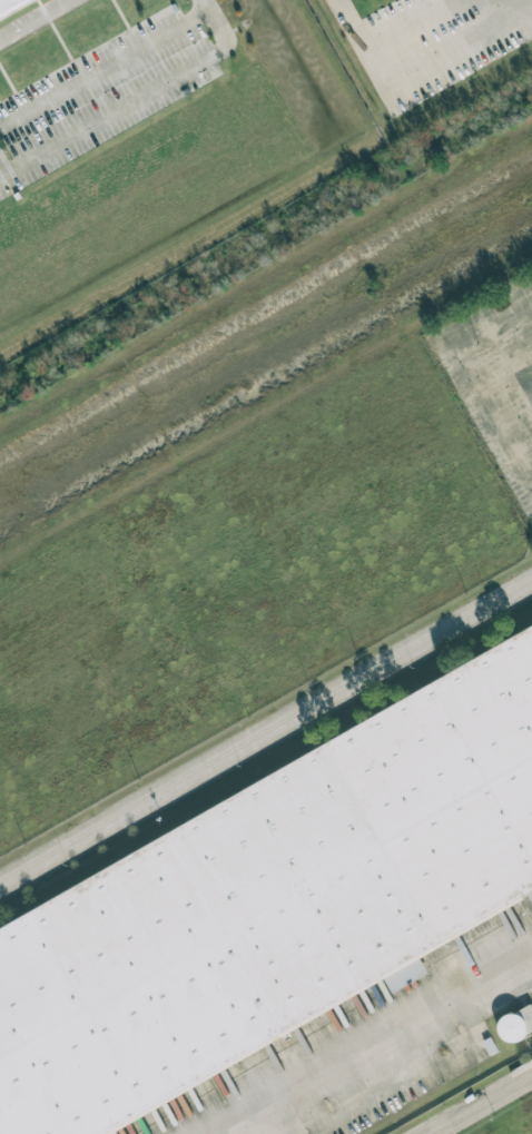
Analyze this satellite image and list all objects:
building: (10, 6)
road: (481, 12)
road: (35, 19)
road: (214, 19)
road: (106, 71)
road: (114, 110)
road: (530, 309)
road: (512, 362)
road: (471, 379)
parking lot: (496, 382)
road: (265, 736)
building: (272, 907)
building: (515, 1024)
road: (370, 1045)
road: (482, 1105)
road: (284, 1116)

